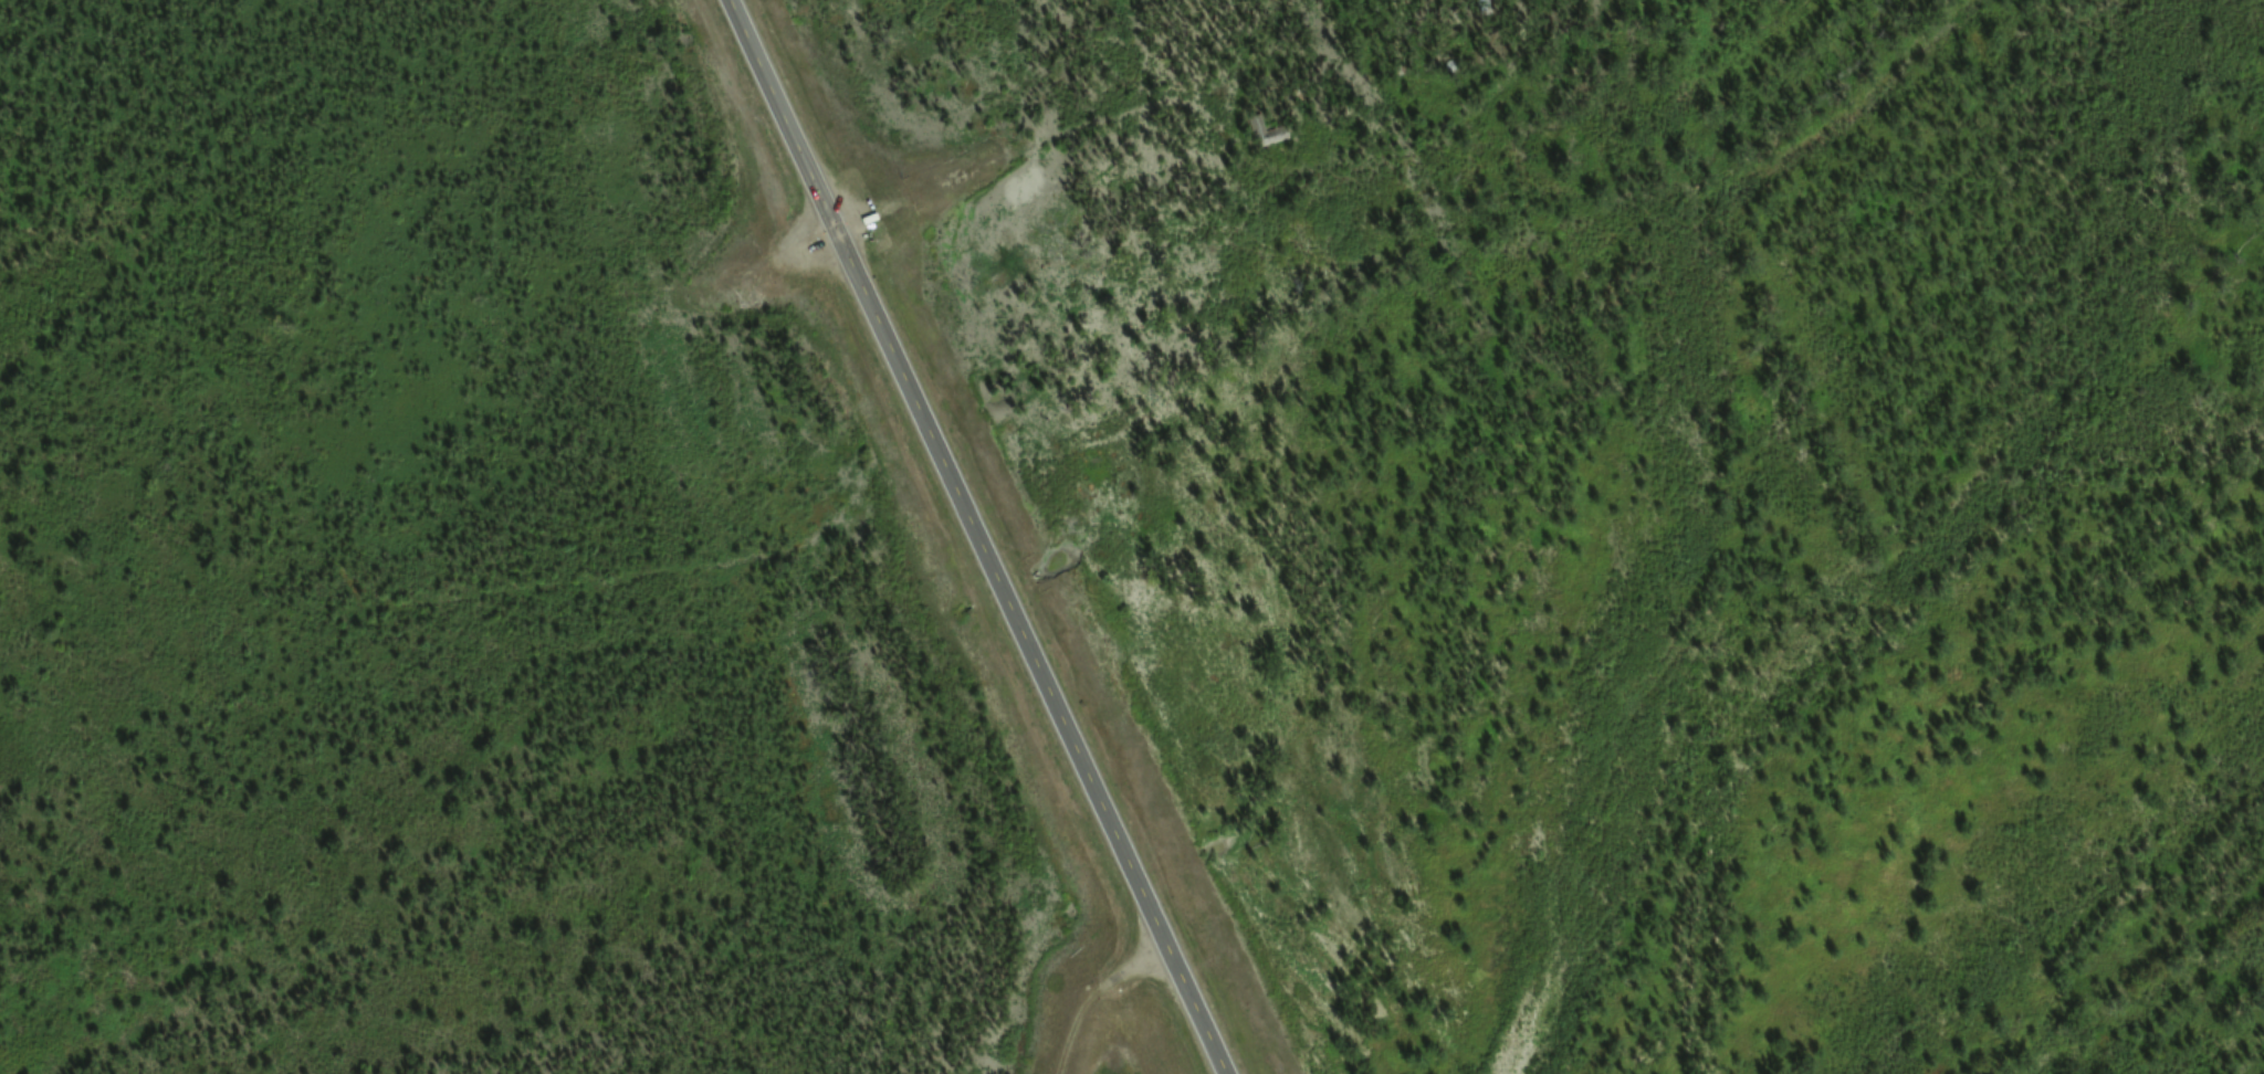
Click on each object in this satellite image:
road: (971, 537)

